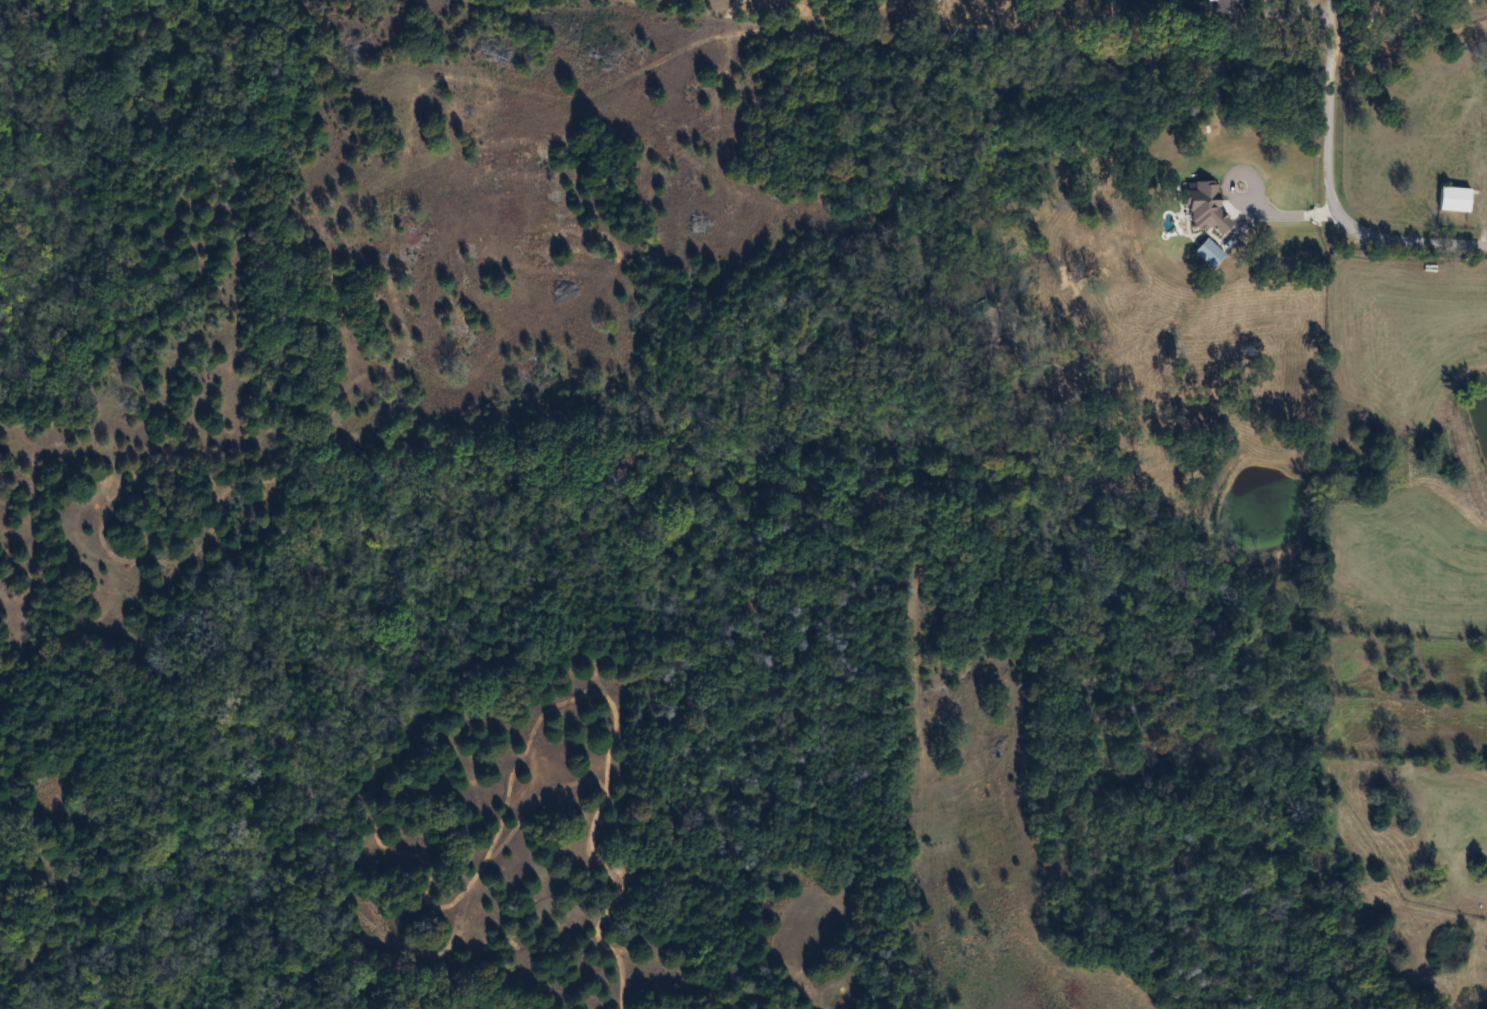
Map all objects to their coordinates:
building: (1227, 7)
road: (1356, 29)
road: (1328, 101)
building: (1454, 200)
road: (1247, 201)
road: (1401, 239)

